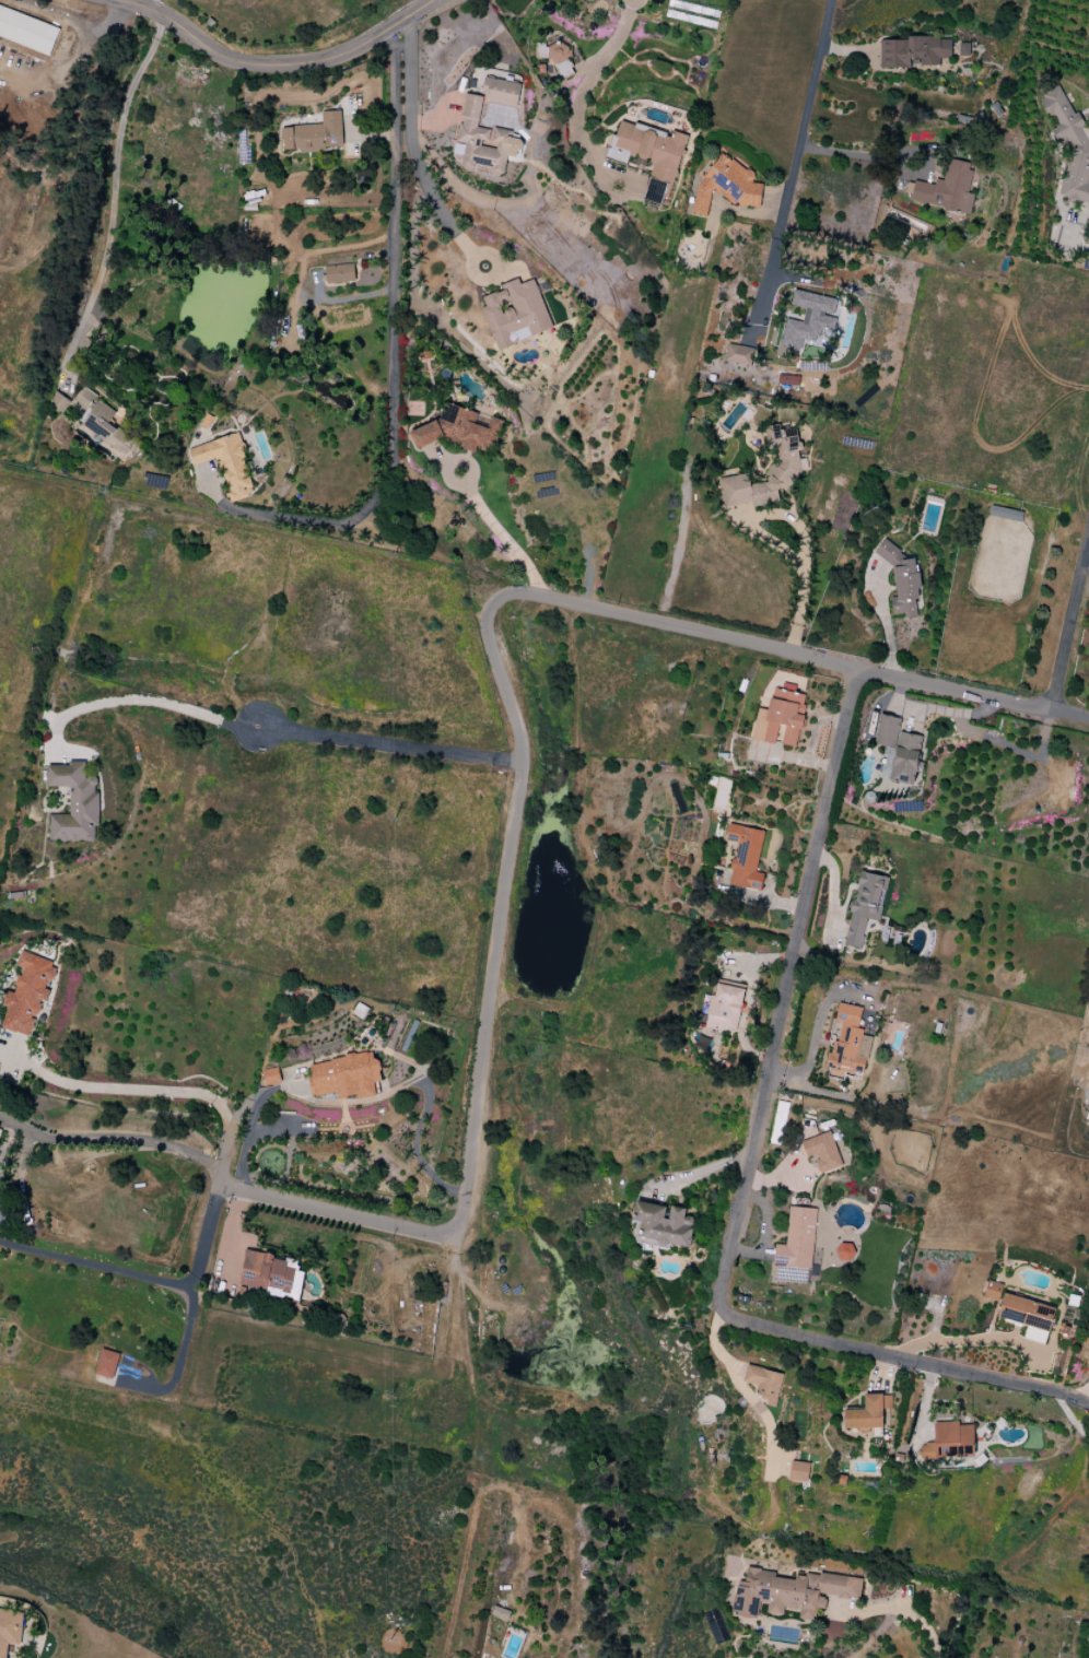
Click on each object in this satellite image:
building: (27, 31)
building: (963, 49)
building: (913, 51)
building: (558, 52)
road: (272, 64)
road: (75, 70)
road: (584, 92)
building: (487, 128)
building: (314, 134)
building: (1069, 145)
road: (413, 151)
road: (856, 154)
building: (648, 156)
road: (794, 169)
building: (727, 186)
building: (944, 188)
building: (338, 273)
building: (515, 313)
building: (810, 321)
road: (394, 346)
building: (739, 355)
building: (84, 398)
building: (57, 403)
building: (106, 427)
building: (458, 430)
building: (226, 463)
building: (783, 469)
building: (1008, 514)
road: (797, 524)
road: (504, 537)
road: (304, 540)
building: (902, 580)
road: (1088, 616)
road: (1067, 619)
road: (886, 624)
road: (783, 651)
road: (141, 701)
building: (780, 718)
building: (900, 749)
road: (389, 750)
building: (74, 804)
building: (745, 857)
building: (865, 906)
road: (504, 918)
building: (27, 993)
building: (724, 1008)
building: (847, 1045)
building: (344, 1075)
building: (270, 1077)
road: (125, 1090)
building: (778, 1122)
building: (0, 1140)
road: (125, 1140)
building: (822, 1152)
road: (748, 1168)
road: (702, 1174)
road: (336, 1214)
building: (663, 1225)
building: (795, 1248)
building: (845, 1254)
building: (273, 1274)
road: (169, 1284)
building: (992, 1291)
building: (1028, 1316)
road: (963, 1341)
road: (183, 1356)
building: (106, 1363)
building: (763, 1383)
road: (1084, 1402)
building: (868, 1412)
building: (950, 1441)
building: (799, 1471)
building: (789, 1594)
road: (903, 1609)
building: (500, 1613)
building: (10, 1630)

